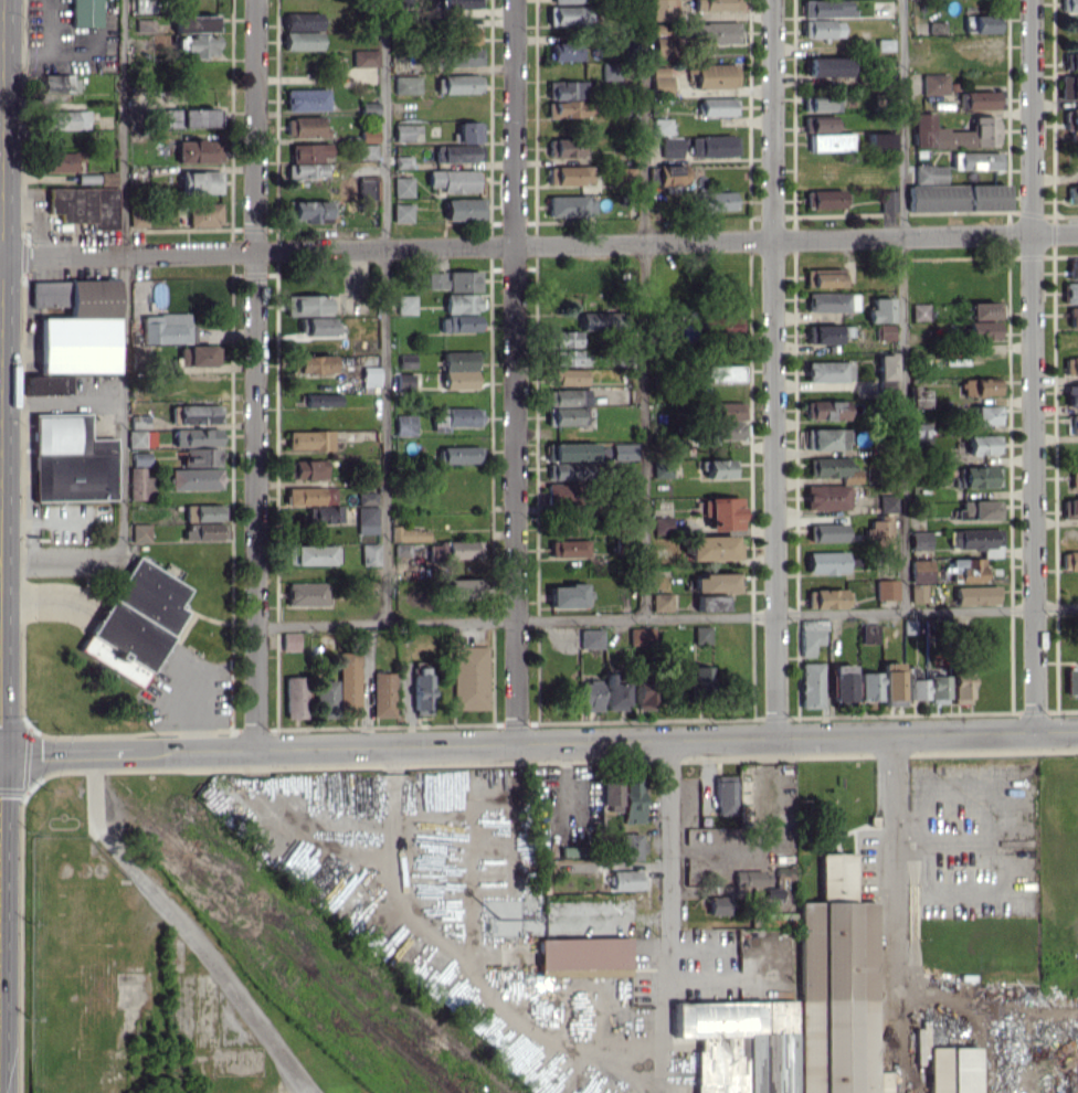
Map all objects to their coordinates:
building: (568, 1)
building: (459, 3)
building: (719, 4)
building: (145, 6)
building: (1071, 6)
building: (662, 9)
building: (826, 9)
building: (85, 12)
building: (567, 14)
building: (306, 21)
building: (195, 22)
building: (980, 23)
building: (145, 25)
building: (936, 26)
building: (822, 28)
building: (714, 32)
building: (467, 34)
building: (302, 40)
building: (197, 44)
building: (663, 45)
building: (566, 51)
building: (461, 56)
building: (364, 57)
building: (1070, 60)
building: (827, 66)
building: (716, 75)
building: (660, 79)
building: (57, 83)
building: (457, 83)
building: (405, 84)
building: (933, 84)
building: (1068, 87)
building: (567, 88)
building: (306, 99)
building: (979, 99)
building: (821, 103)
building: (717, 106)
building: (368, 108)
building: (567, 108)
building: (183, 117)
building: (66, 119)
building: (1072, 124)
building: (821, 125)
building: (660, 126)
building: (406, 131)
building: (469, 131)
building: (953, 132)
building: (369, 136)
building: (879, 140)
building: (831, 141)
building: (712, 146)
building: (670, 147)
building: (560, 149)
building: (198, 150)
building: (309, 151)
building: (367, 151)
building: (457, 152)
building: (975, 160)
building: (60, 161)
building: (305, 170)
building: (929, 172)
building: (568, 174)
building: (672, 174)
building: (106, 177)
building: (453, 180)
building: (201, 181)
building: (402, 187)
building: (368, 189)
building: (1071, 193)
building: (957, 197)
building: (825, 199)
building: (715, 200)
building: (887, 200)
building: (84, 205)
building: (570, 205)
building: (464, 209)
building: (308, 211)
building: (402, 212)
building: (203, 214)
building: (137, 219)
road: (539, 245)
building: (1072, 267)
road: (121, 269)
building: (823, 277)
building: (453, 280)
building: (1070, 293)
building: (831, 301)
building: (462, 303)
building: (405, 304)
building: (306, 305)
road: (902, 306)
road: (641, 309)
building: (879, 309)
building: (983, 309)
road: (384, 311)
building: (918, 311)
building: (1072, 317)
building: (600, 319)
building: (458, 322)
building: (316, 325)
building: (75, 326)
building: (729, 327)
building: (165, 328)
building: (981, 329)
building: (884, 331)
building: (826, 333)
building: (564, 338)
building: (198, 356)
building: (568, 357)
building: (405, 361)
building: (313, 363)
building: (885, 365)
building: (1070, 365)
road: (1033, 367)
road: (773, 369)
building: (458, 370)
road: (512, 371)
building: (827, 371)
building: (723, 373)
road: (254, 374)
building: (568, 375)
building: (369, 379)
building: (403, 382)
building: (44, 384)
building: (980, 386)
building: (1070, 395)
building: (918, 396)
building: (319, 399)
road: (61, 401)
building: (728, 410)
building: (825, 410)
building: (195, 413)
building: (983, 414)
building: (563, 415)
building: (455, 417)
building: (403, 424)
building: (720, 431)
building: (194, 437)
building: (139, 438)
building: (826, 438)
building: (308, 439)
building: (981, 444)
building: (623, 450)
building: (570, 452)
building: (457, 454)
building: (200, 456)
building: (68, 459)
building: (305, 468)
building: (717, 468)
building: (832, 468)
building: (662, 469)
building: (560, 470)
building: (976, 476)
building: (193, 478)
building: (1074, 479)
building: (138, 484)
building: (562, 492)
building: (309, 495)
building: (825, 497)
building: (366, 498)
building: (887, 502)
building: (1069, 508)
building: (977, 510)
building: (202, 512)
building: (721, 512)
building: (324, 514)
building: (366, 519)
building: (659, 524)
building: (202, 531)
building: (825, 531)
building: (878, 531)
building: (139, 532)
building: (409, 534)
building: (919, 540)
building: (975, 540)
building: (711, 546)
building: (567, 548)
building: (454, 549)
building: (403, 550)
building: (368, 553)
building: (309, 554)
road: (67, 559)
building: (1069, 561)
building: (829, 562)
building: (965, 569)
building: (919, 570)
building: (714, 582)
building: (459, 587)
building: (885, 588)
building: (917, 592)
building: (305, 593)
building: (974, 594)
building: (567, 595)
building: (826, 598)
building: (659, 602)
building: (711, 602)
road: (796, 615)
building: (135, 622)
road: (383, 623)
building: (868, 633)
building: (700, 634)
building: (640, 635)
building: (810, 635)
building: (590, 637)
building: (288, 640)
building: (468, 677)
building: (699, 678)
building: (1071, 681)
building: (347, 682)
building: (841, 682)
building: (959, 682)
building: (889, 683)
building: (808, 685)
building: (913, 685)
building: (867, 686)
building: (937, 687)
building: (642, 689)
building: (420, 690)
building: (613, 692)
building: (382, 694)
building: (589, 696)
building: (293, 697)
building: (325, 699)
road: (538, 743)
road: (92, 793)
building: (722, 794)
building: (609, 796)
building: (631, 800)
building: (630, 846)
building: (568, 850)
road: (670, 852)
building: (754, 877)
building: (625, 880)
building: (776, 882)
building: (717, 904)
road: (897, 951)
building: (581, 953)
road: (209, 956)
building: (837, 987)
building: (615, 997)
building: (739, 1044)
building: (951, 1070)

